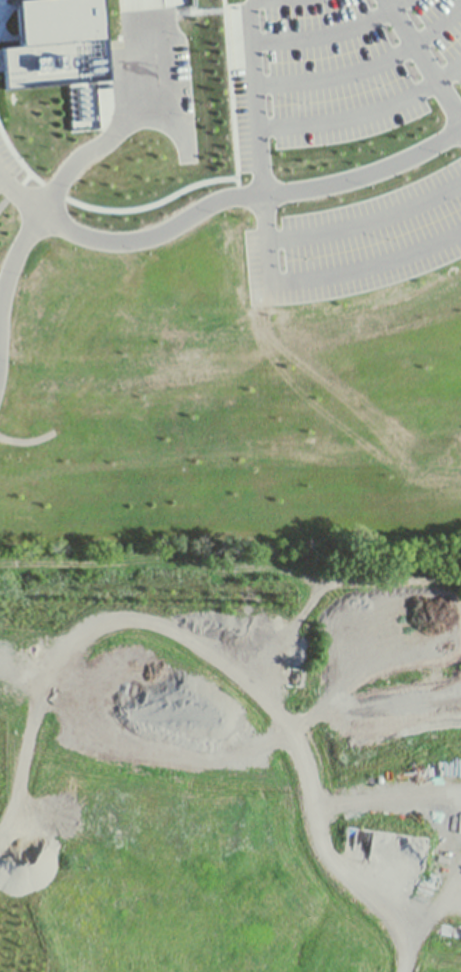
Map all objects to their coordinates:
building: (60, 51)
road: (419, 61)
road: (115, 128)
road: (17, 190)
road: (171, 224)
road: (263, 240)
road: (241, 677)
landfill: (230, 761)

